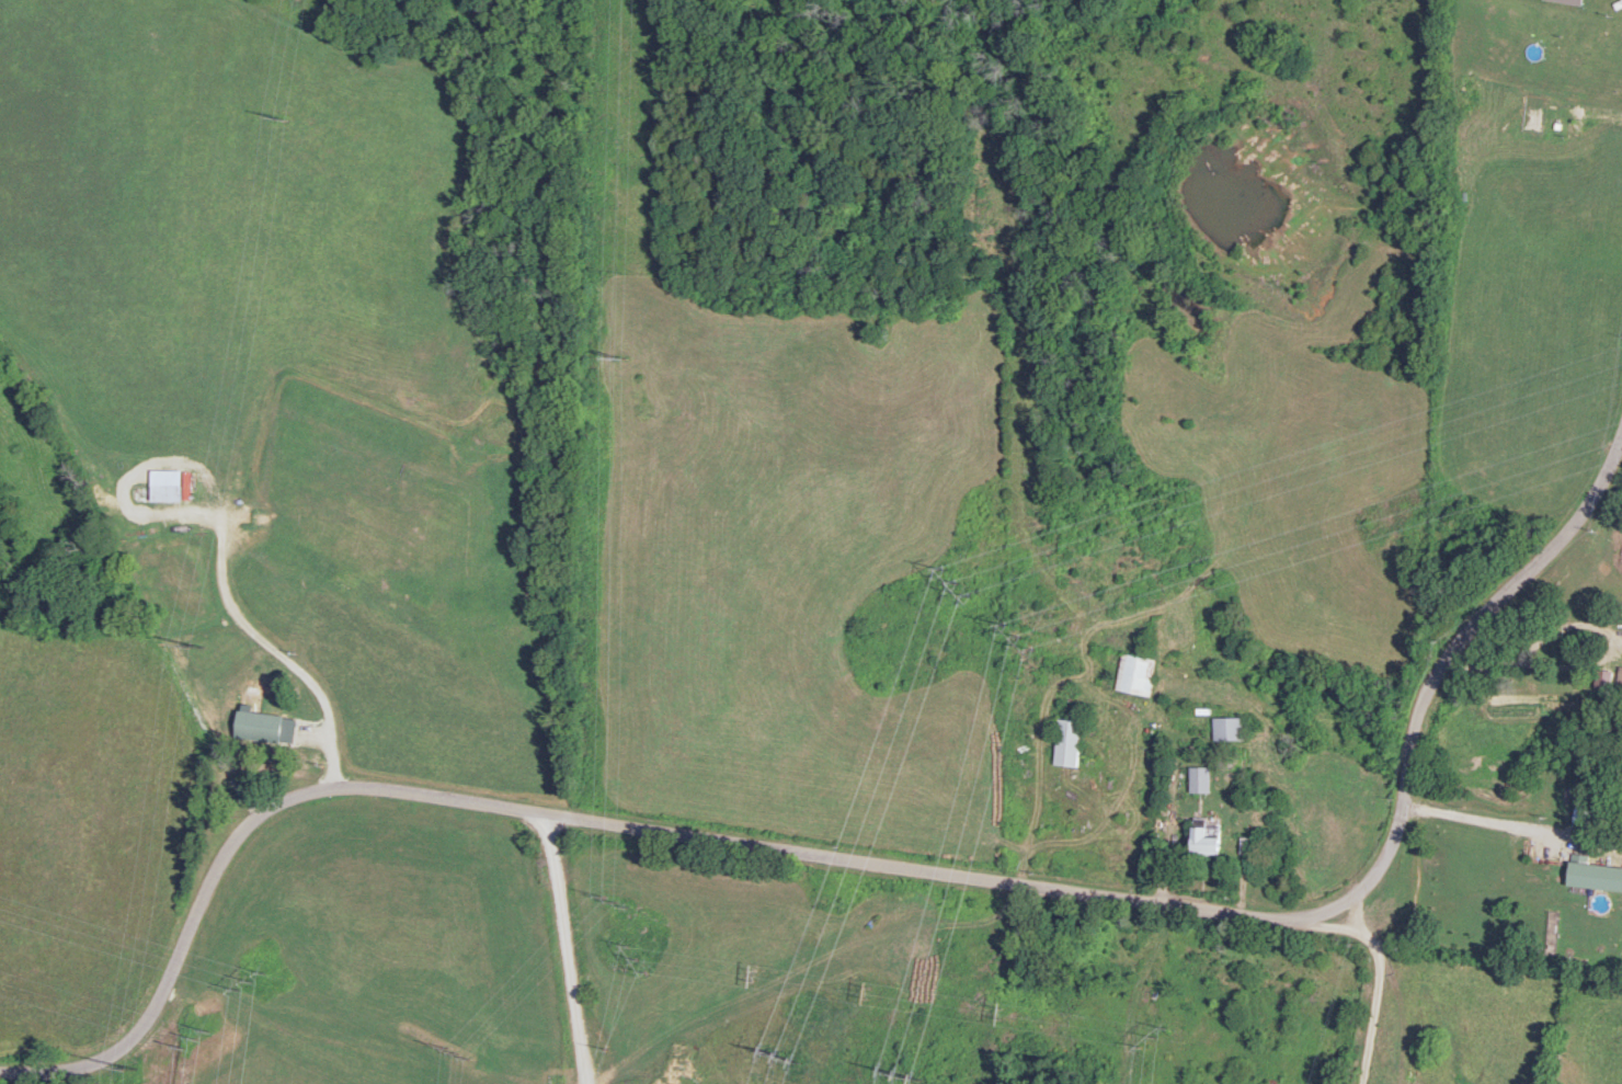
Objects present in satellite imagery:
building: (1573, 1)
power tower: (279, 114)
power tower: (618, 356)
building: (165, 491)
power tower: (957, 581)
power tower: (1021, 636)
road: (250, 638)
power tower: (197, 643)
building: (1138, 673)
building: (1620, 677)
building: (261, 724)
building: (1232, 728)
building: (1070, 741)
building: (1201, 778)
road: (1510, 831)
building: (1209, 836)
road: (884, 869)
building: (1595, 874)
power tower: (613, 898)
power tower: (254, 981)
power tower: (197, 1036)
power tower: (458, 1047)
power tower: (786, 1054)
power tower: (130, 1068)
power tower: (909, 1076)

